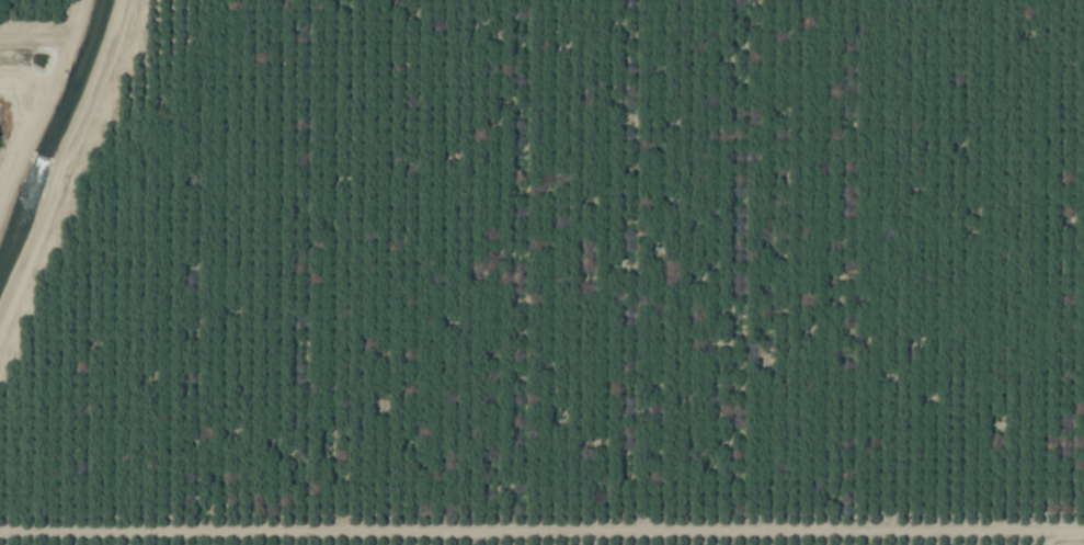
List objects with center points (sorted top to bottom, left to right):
road: (541, 531)

